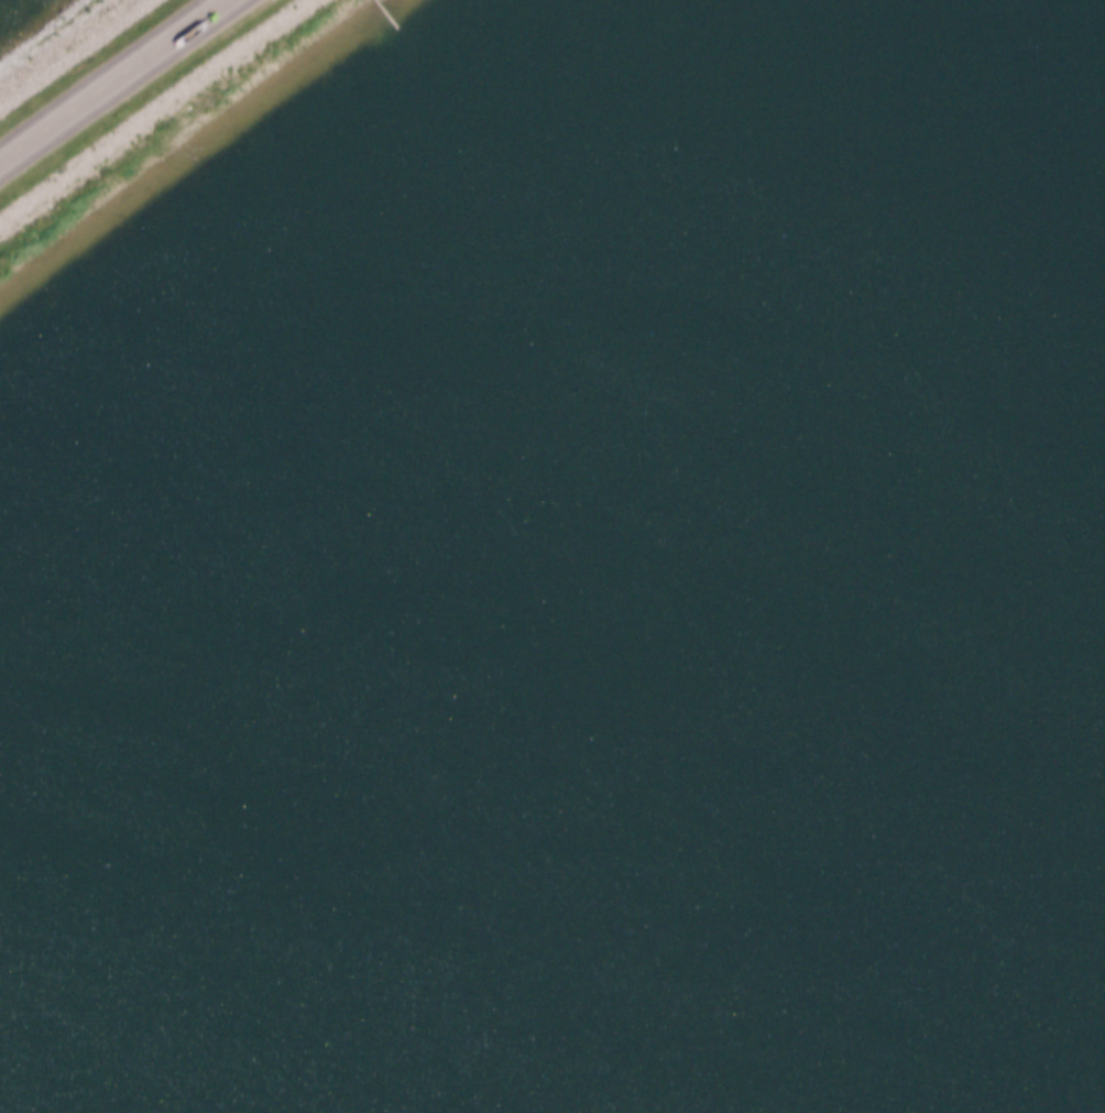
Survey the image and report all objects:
road: (133, 21)
road: (52, 81)

